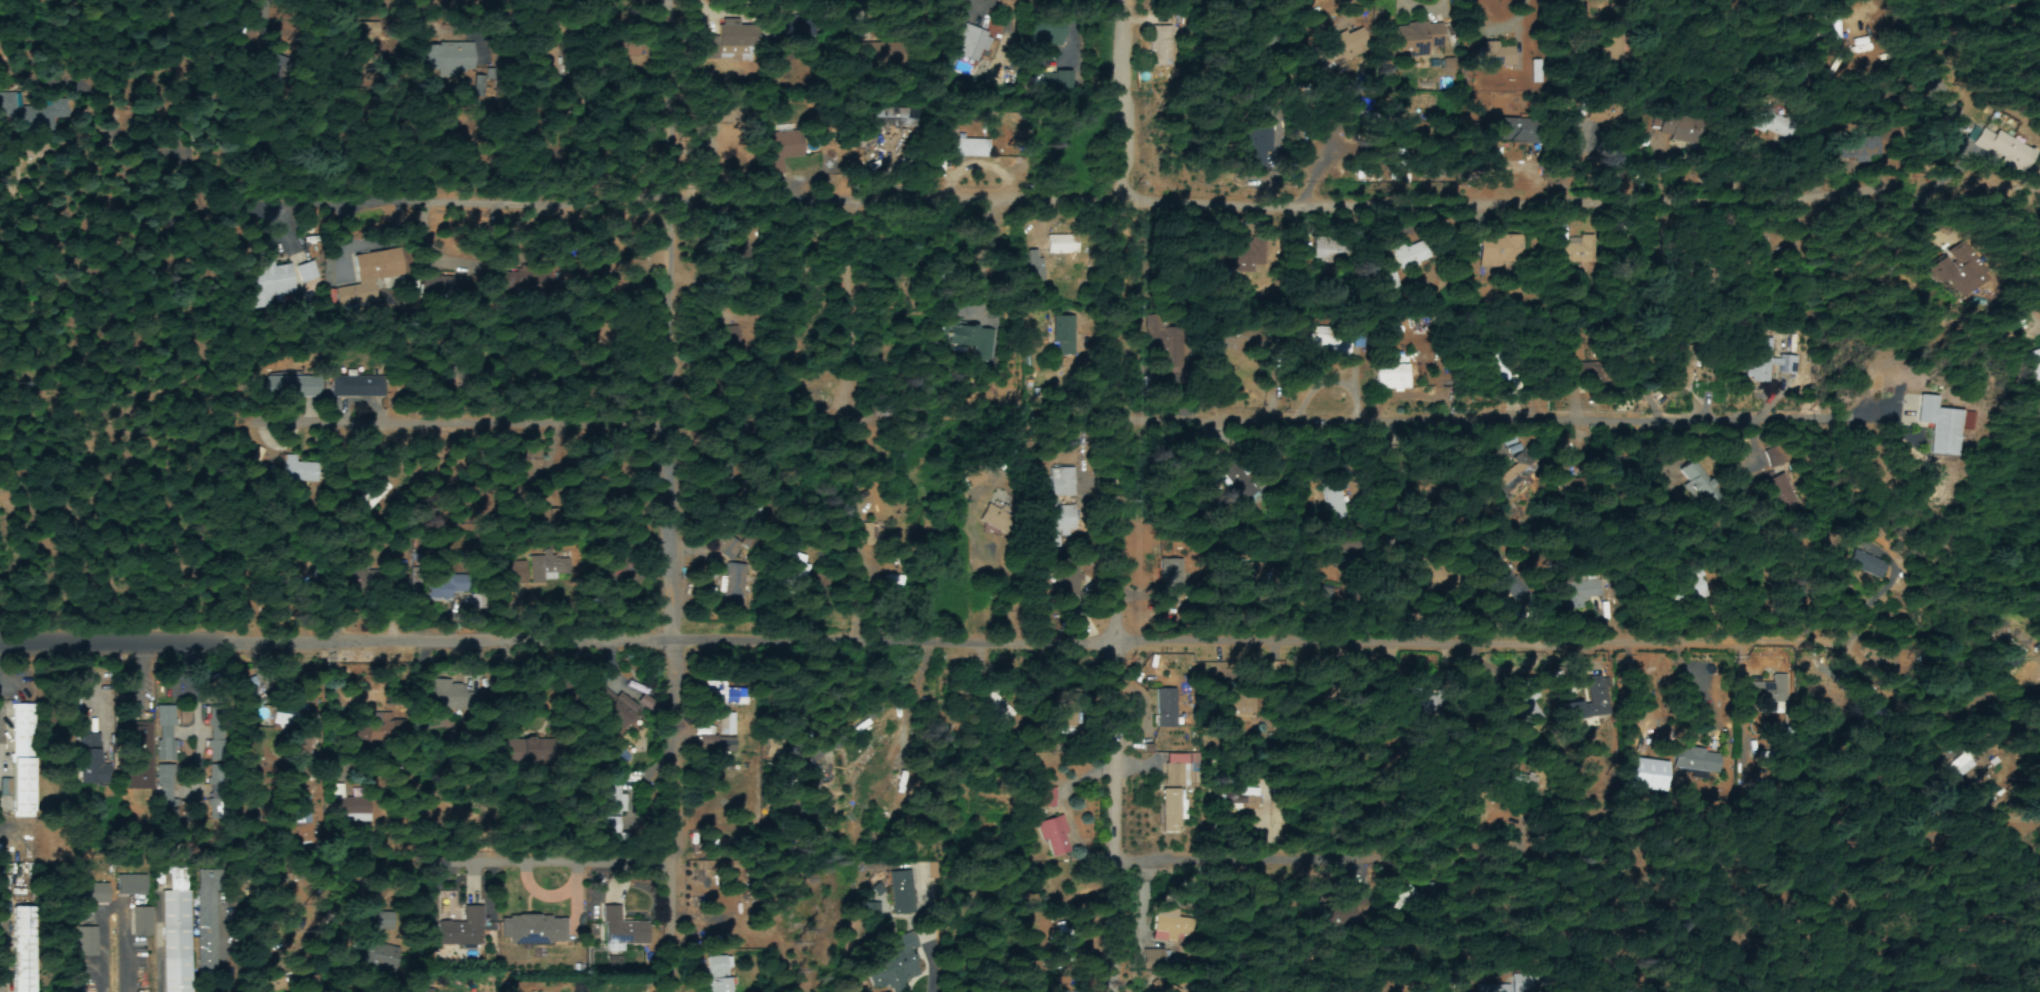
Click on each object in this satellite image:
building: (783, 28)
building: (732, 34)
building: (1051, 34)
building: (1421, 40)
building: (968, 42)
building: (1342, 46)
building: (1160, 48)
building: (890, 118)
building: (30, 121)
building: (1771, 124)
building: (1515, 131)
building: (968, 149)
building: (782, 150)
building: (2004, 150)
road: (1178, 181)
building: (1062, 246)
building: (1325, 252)
building: (1501, 252)
building: (1578, 252)
building: (1410, 256)
building: (1235, 261)
building: (1949, 268)
building: (306, 273)
building: (1387, 282)
building: (267, 285)
building: (1062, 335)
building: (972, 341)
building: (1329, 345)
building: (2036, 360)
building: (1768, 364)
building: (1497, 366)
building: (1686, 367)
building: (1392, 378)
building: (357, 387)
building: (291, 388)
road: (472, 390)
road: (1507, 420)
building: (1941, 427)
building: (972, 478)
building: (1062, 483)
building: (1699, 485)
building: (370, 495)
road: (672, 495)
road: (1135, 495)
building: (1332, 503)
building: (994, 520)
building: (1060, 522)
building: (723, 553)
building: (1866, 566)
building: (797, 568)
building: (1070, 570)
building: (1168, 583)
building: (442, 586)
building: (735, 587)
building: (1692, 588)
building: (1580, 592)
road: (1019, 643)
building: (1769, 692)
building: (250, 694)
building: (447, 696)
building: (602, 698)
building: (1588, 702)
building: (1527, 707)
building: (1238, 708)
building: (1165, 709)
building: (619, 715)
building: (721, 719)
building: (283, 721)
building: (21, 726)
building: (165, 735)
building: (137, 752)
building: (89, 759)
building: (1696, 762)
building: (1967, 764)
road: (1923, 777)
building: (164, 782)
building: (1520, 783)
building: (20, 788)
building: (1046, 799)
building: (613, 801)
building: (301, 811)
building: (1169, 823)
building: (610, 826)
building: (1052, 839)
road: (1590, 857)
road: (545, 861)
building: (131, 886)
building: (902, 894)
building: (92, 895)
building: (141, 923)
building: (1170, 927)
building: (461, 928)
building: (619, 928)
building: (530, 929)
building: (176, 934)
building: (85, 943)
building: (1062, 944)
building: (22, 950)
building: (894, 967)
building: (717, 974)
building: (1492, 988)
building: (1243, 990)
building: (423, 991)

